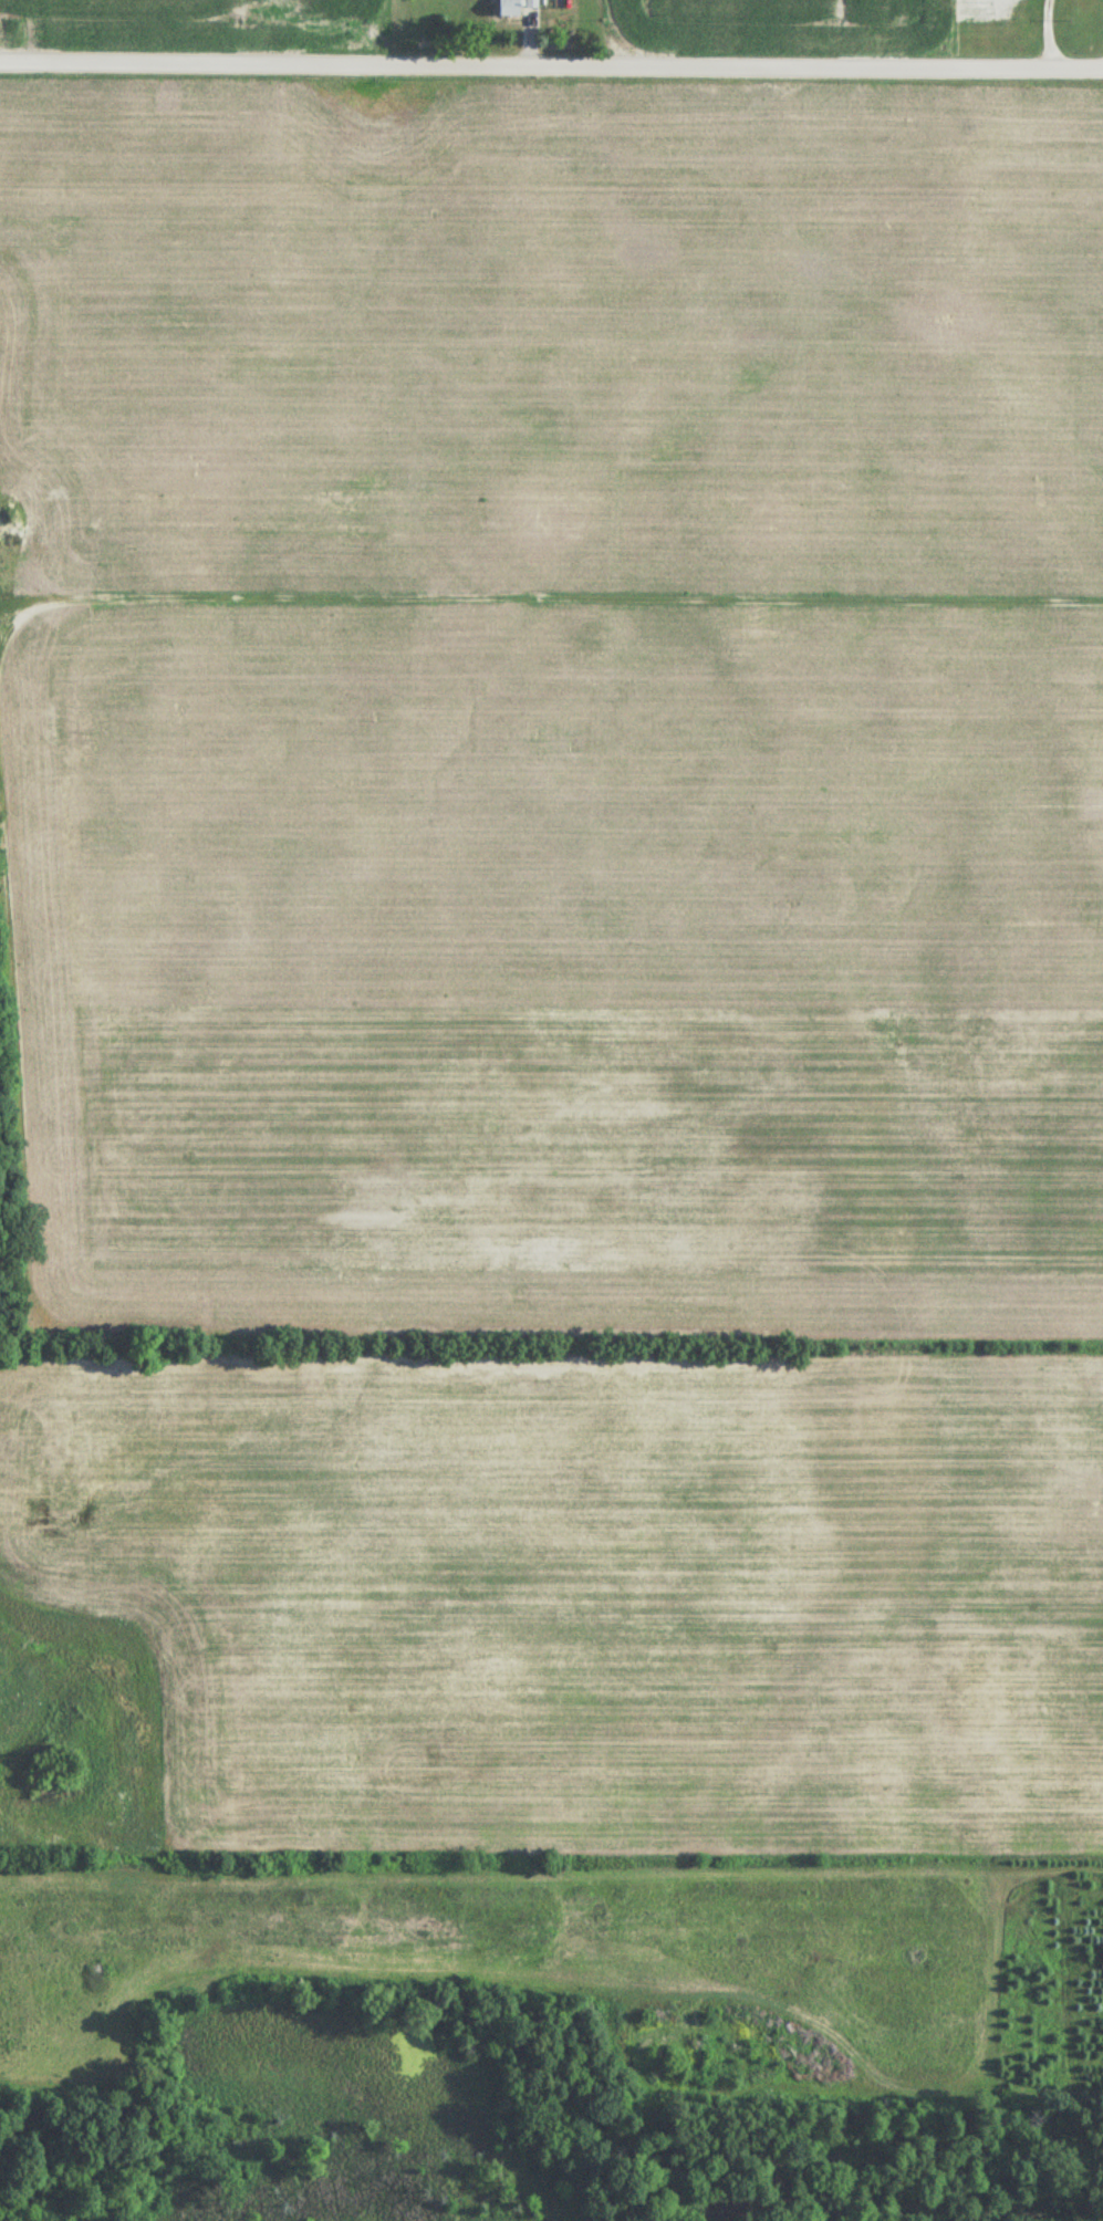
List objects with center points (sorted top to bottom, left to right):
building: (531, 4)
building: (508, 9)
road: (551, 66)

